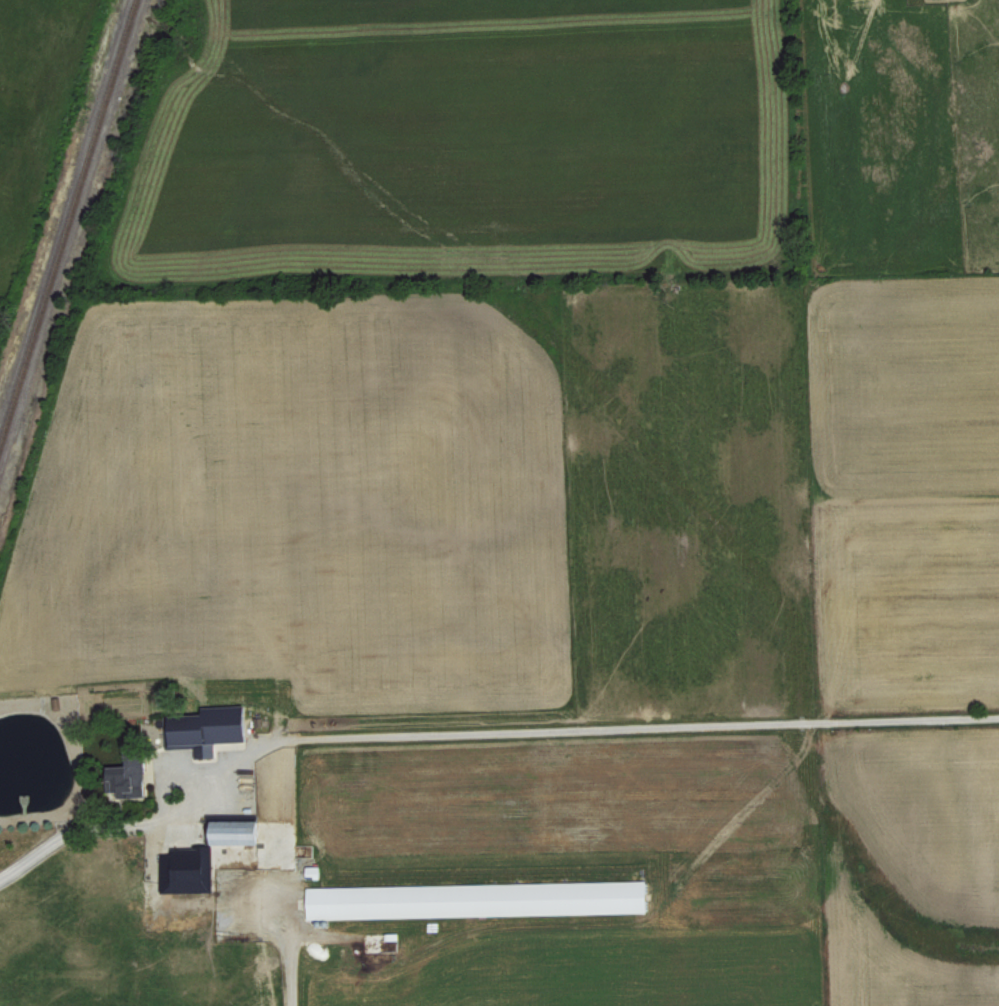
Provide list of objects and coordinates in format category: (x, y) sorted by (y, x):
railway: (67, 223)
building: (206, 729)
road: (480, 738)
building: (129, 776)
building: (236, 833)
building: (186, 871)
building: (479, 899)
road: (287, 962)

